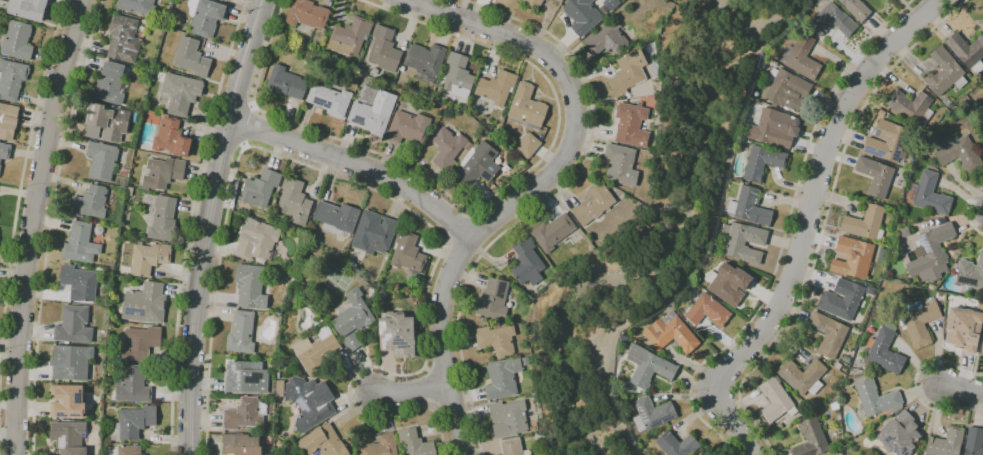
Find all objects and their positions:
building: (224, 0)
building: (545, 0)
building: (556, 0)
building: (559, 0)
building: (534, 3)
building: (610, 4)
building: (137, 6)
building: (27, 9)
building: (855, 9)
building: (306, 14)
building: (582, 15)
building: (205, 16)
building: (832, 21)
building: (350, 37)
building: (123, 39)
building: (606, 39)
building: (17, 41)
building: (384, 50)
building: (967, 51)
building: (191, 57)
building: (801, 57)
building: (425, 59)
building: (944, 72)
building: (628, 73)
building: (456, 76)
building: (11, 79)
building: (285, 83)
building: (110, 84)
building: (497, 88)
building: (787, 91)
building: (180, 93)
road: (235, 99)
building: (330, 100)
building: (965, 101)
building: (946, 102)
building: (526, 108)
building: (911, 108)
building: (373, 113)
building: (8, 121)
building: (108, 121)
building: (631, 125)
building: (408, 128)
building: (774, 128)
building: (171, 138)
road: (225, 141)
building: (886, 142)
building: (527, 145)
building: (468, 146)
building: (447, 148)
building: (4, 151)
building: (959, 153)
building: (101, 161)
building: (762, 162)
building: (477, 165)
building: (620, 165)
road: (357, 166)
building: (0, 167)
building: (124, 172)
building: (163, 172)
building: (875, 176)
road: (533, 188)
building: (260, 189)
road: (19, 192)
building: (129, 192)
building: (928, 195)
building: (294, 201)
road: (544, 201)
road: (480, 202)
building: (89, 203)
building: (593, 204)
building: (749, 207)
road: (969, 211)
building: (336, 218)
building: (163, 219)
road: (824, 220)
building: (865, 223)
road: (34, 224)
road: (49, 224)
road: (189, 224)
road: (207, 224)
road: (805, 224)
road: (455, 226)
road: (785, 230)
building: (552, 232)
building: (374, 233)
building: (257, 241)
building: (743, 242)
building: (80, 243)
building: (932, 253)
building: (408, 255)
building: (853, 257)
building: (149, 258)
building: (527, 263)
building: (969, 273)
building: (79, 282)
building: (728, 283)
road: (428, 284)
building: (250, 286)
building: (940, 296)
building: (398, 297)
road: (215, 298)
building: (494, 299)
building: (841, 300)
building: (950, 300)
building: (145, 304)
building: (707, 311)
building: (352, 314)
building: (317, 320)
building: (919, 322)
building: (74, 325)
building: (963, 329)
building: (241, 333)
building: (671, 333)
building: (397, 334)
building: (828, 334)
building: (495, 339)
building: (352, 342)
building: (139, 343)
building: (981, 348)
building: (316, 350)
building: (884, 350)
building: (846, 359)
building: (524, 361)
building: (71, 362)
building: (281, 366)
building: (648, 366)
building: (837, 366)
building: (802, 376)
building: (246, 377)
building: (502, 378)
road: (915, 383)
building: (132, 385)
building: (279, 389)
road: (961, 389)
road: (411, 392)
building: (874, 397)
building: (776, 400)
building: (67, 402)
building: (309, 402)
building: (834, 406)
building: (896, 409)
building: (808, 412)
building: (243, 414)
building: (652, 414)
building: (860, 414)
building: (508, 418)
building: (133, 423)
building: (781, 426)
road: (440, 427)
building: (899, 434)
building: (69, 437)
building: (811, 439)
building: (269, 440)
building: (323, 442)
building: (974, 442)
building: (414, 443)
building: (945, 443)
building: (241, 445)
building: (677, 445)
building: (380, 446)
building: (511, 447)
building: (129, 450)
building: (704, 453)
building: (839, 454)

